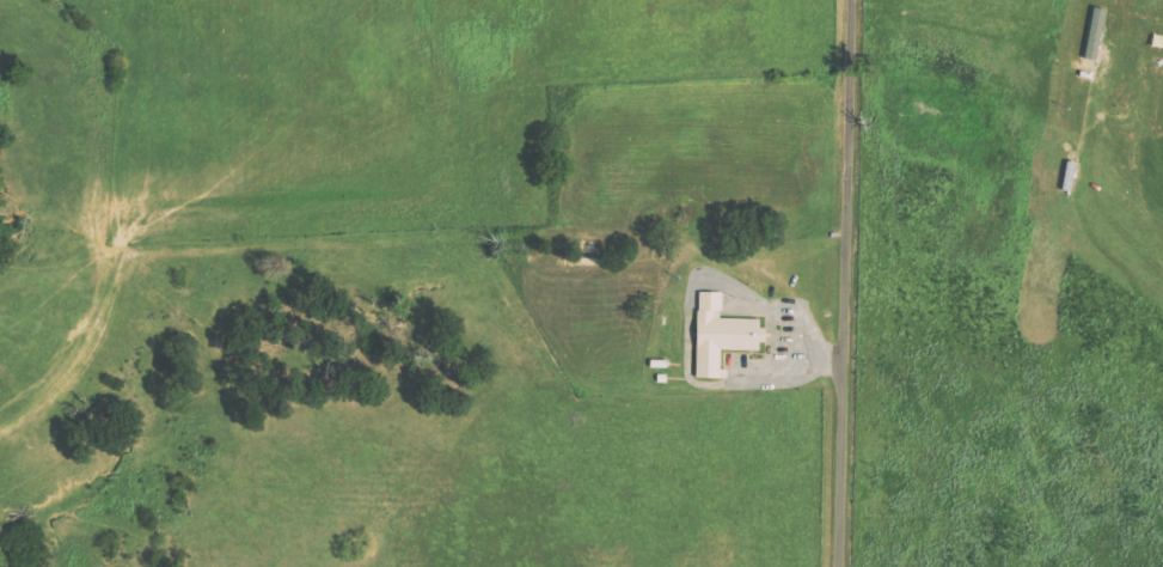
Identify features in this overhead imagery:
building: (1096, 33)
road: (841, 283)
building: (723, 335)
road: (84, 362)

